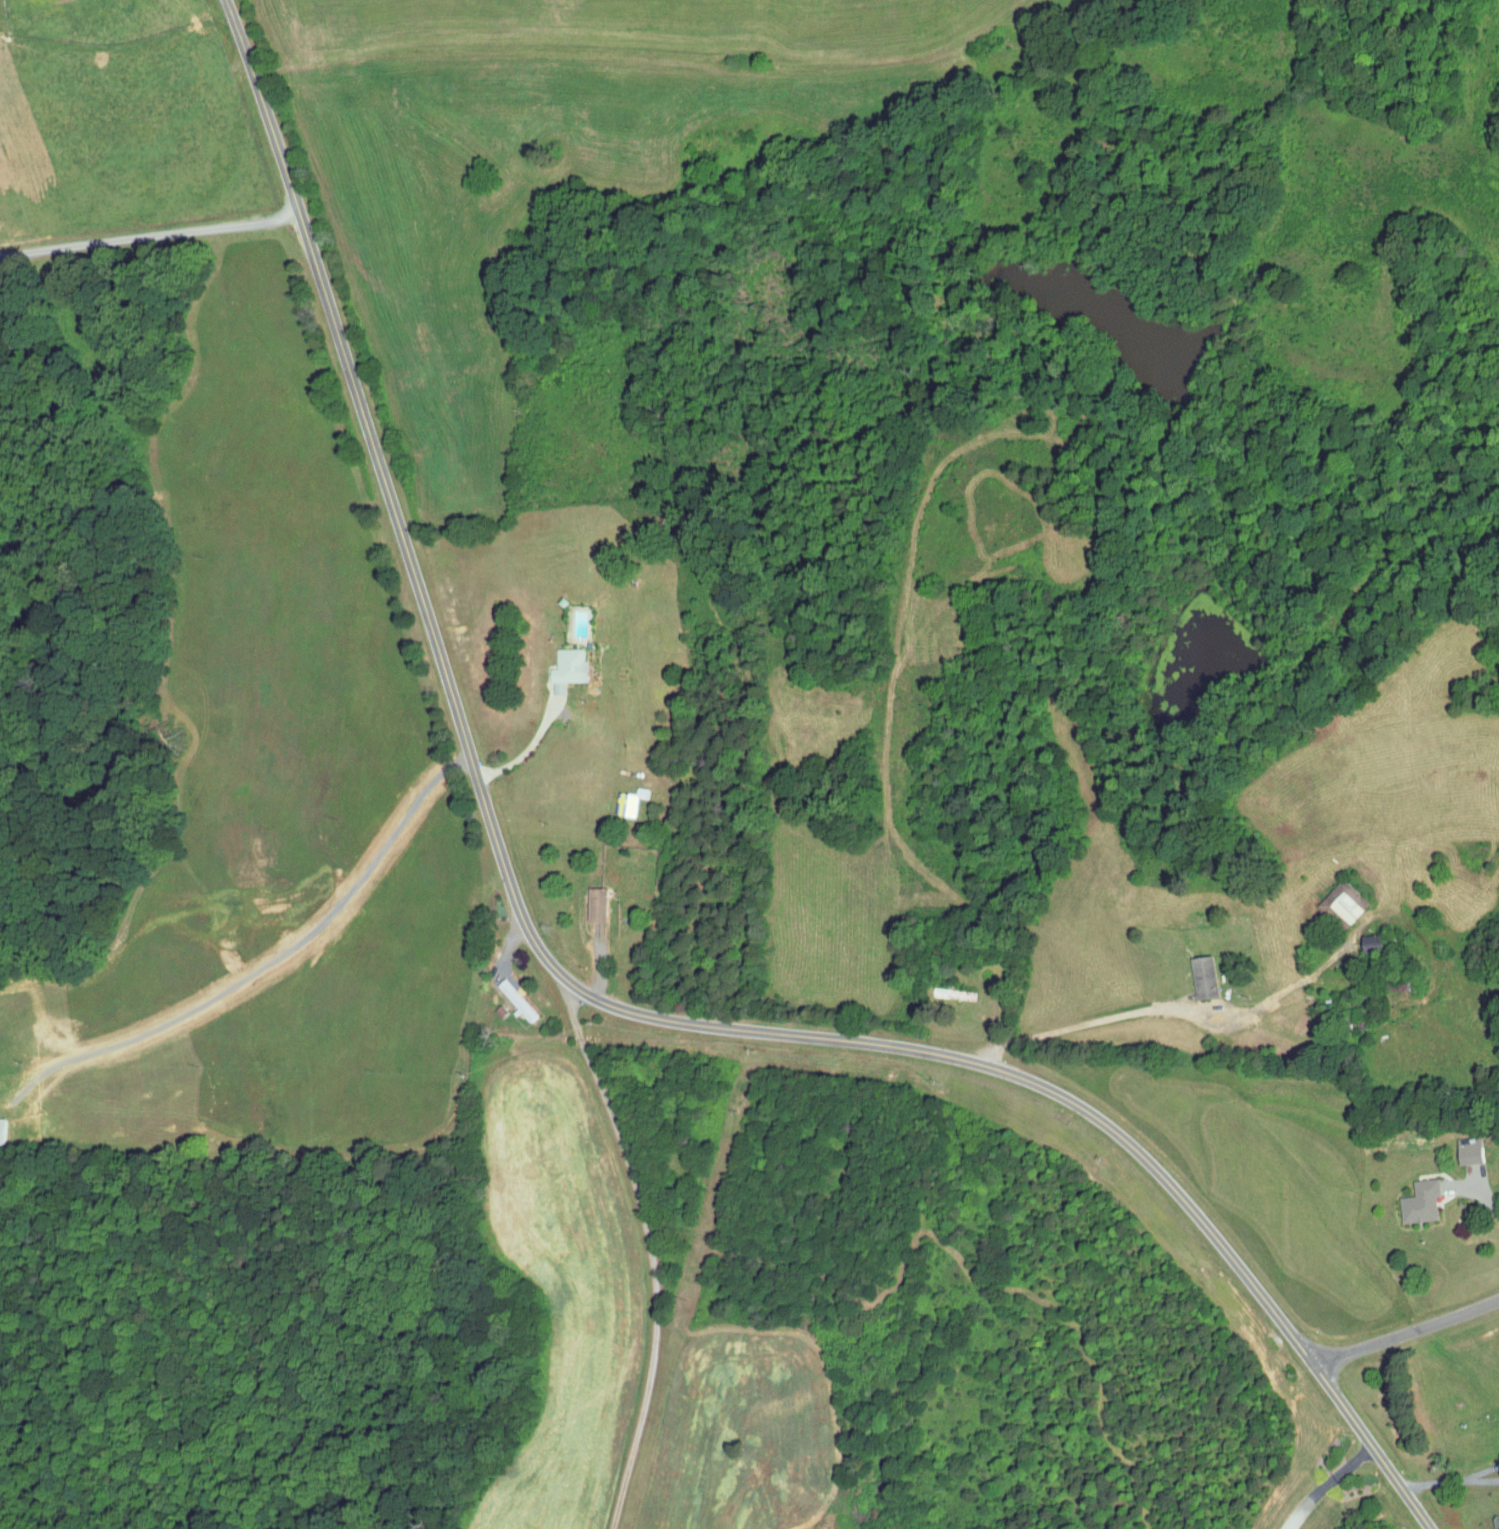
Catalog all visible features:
road: (152, 231)
building: (568, 668)
road: (537, 724)
building: (1343, 902)
building: (598, 904)
road: (634, 918)
building: (1205, 976)
road: (537, 984)
road: (591, 991)
building: (517, 999)
road: (1182, 1008)
road: (572, 1010)
road: (961, 1014)
road: (670, 1047)
building: (2, 1129)
building: (1470, 1150)
road: (1490, 1200)
building: (1421, 1201)
road: (653, 1279)
road: (1405, 1332)
road: (1482, 1470)
road: (1483, 1479)
road: (1434, 1482)
road: (1331, 1486)
building: (1496, 1520)

